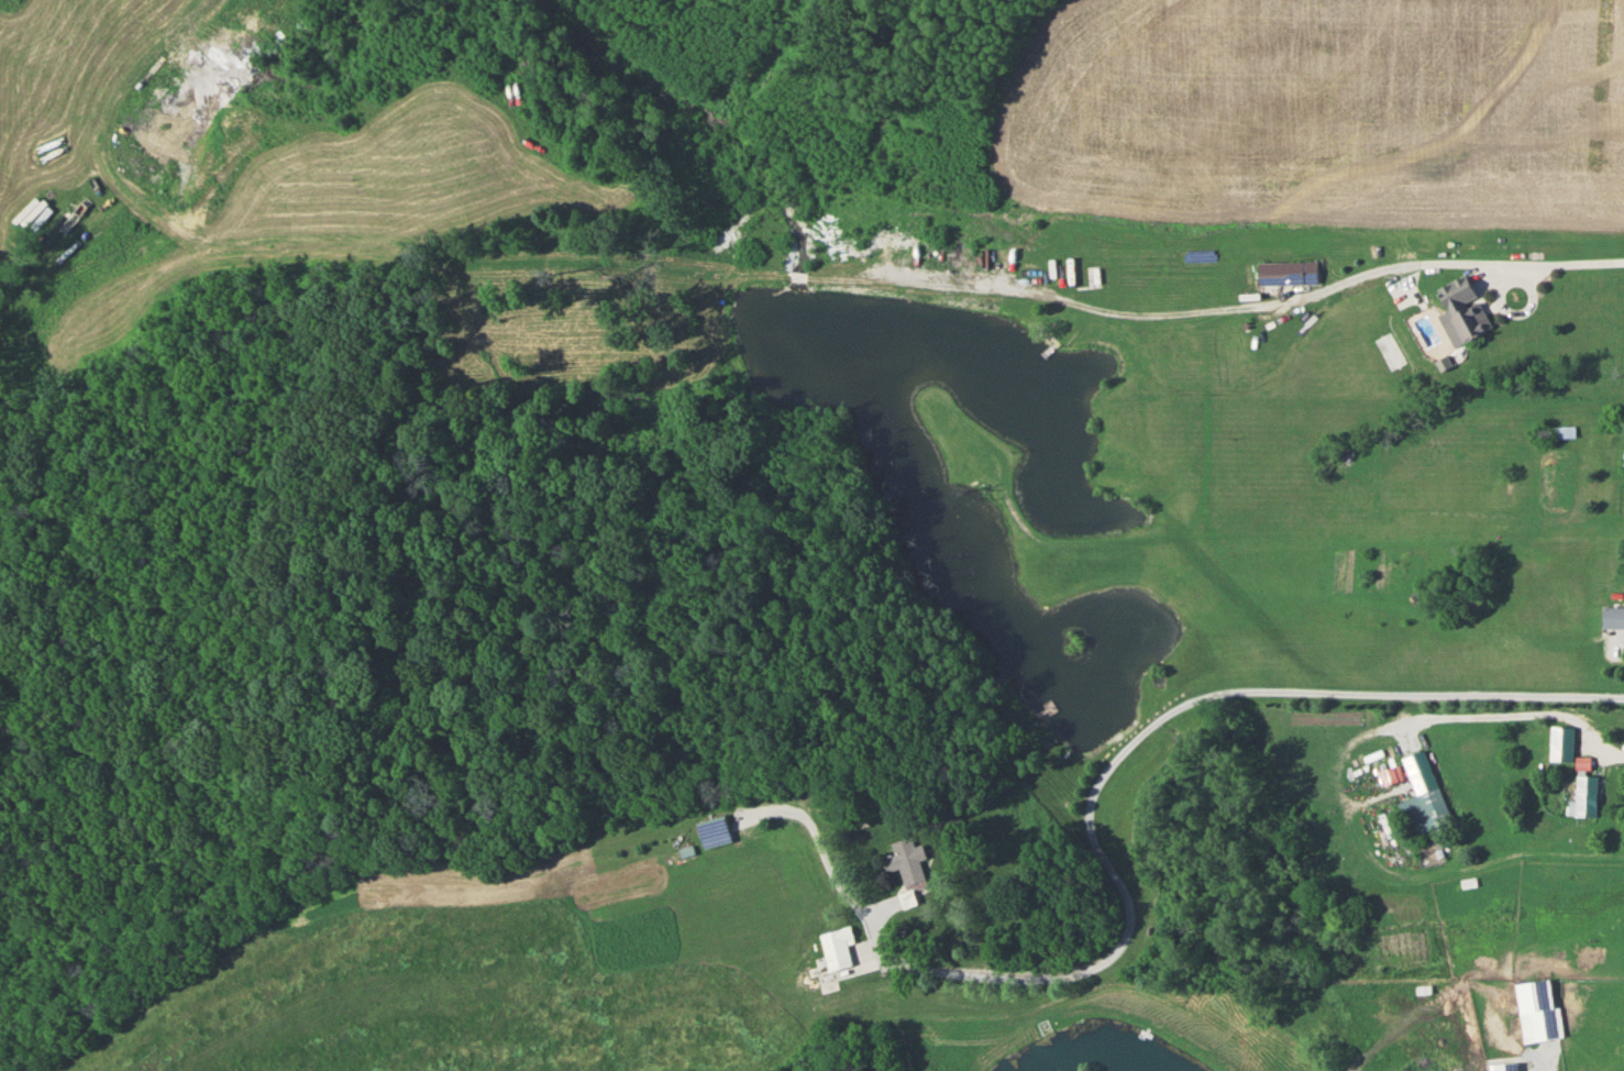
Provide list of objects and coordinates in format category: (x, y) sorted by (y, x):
crop: (725, 11)
road: (750, 19)
crop: (1313, 110)
road: (1436, 261)
building: (1288, 272)
building: (1463, 310)
building: (1560, 430)
building: (1623, 459)
building: (1613, 616)
road: (1516, 725)
building: (1562, 742)
road: (1129, 744)
building: (1587, 795)
building: (1423, 808)
building: (711, 826)
building: (909, 860)
building: (907, 898)
building: (835, 948)
building: (1538, 1011)
road: (1546, 1056)
building: (1506, 1067)

